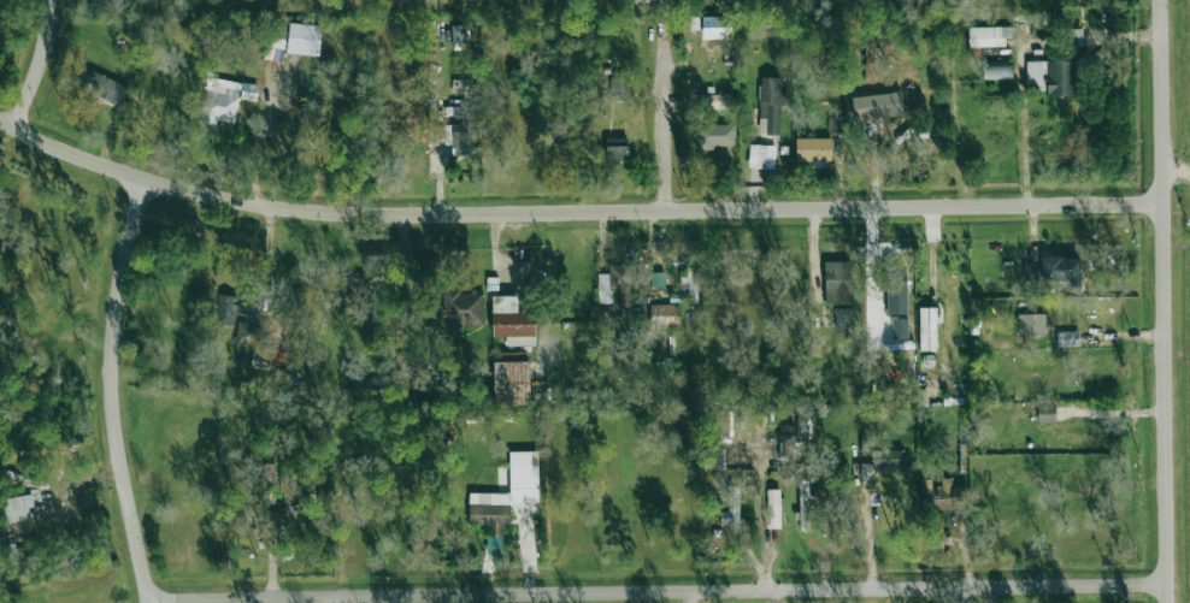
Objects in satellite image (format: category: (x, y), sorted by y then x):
building: (465, 0)
building: (108, 1)
building: (695, 23)
building: (717, 26)
building: (456, 32)
building: (989, 36)
building: (304, 39)
road: (36, 65)
building: (997, 70)
building: (1050, 76)
building: (99, 85)
building: (618, 88)
building: (870, 88)
building: (225, 99)
building: (714, 100)
building: (771, 105)
road: (1025, 119)
road: (662, 122)
building: (835, 124)
building: (456, 130)
building: (715, 135)
building: (615, 148)
road: (258, 149)
building: (813, 149)
building: (761, 156)
road: (1176, 167)
road: (573, 212)
building: (1055, 271)
road: (405, 272)
building: (658, 278)
building: (836, 282)
building: (690, 284)
building: (896, 288)
building: (360, 290)
building: (755, 295)
building: (605, 297)
building: (676, 297)
road: (1162, 301)
building: (228, 308)
building: (461, 309)
building: (725, 311)
building: (665, 315)
building: (842, 317)
building: (512, 321)
building: (1031, 323)
building: (899, 329)
building: (927, 329)
building: (247, 333)
building: (1067, 338)
building: (512, 355)
building: (511, 383)
road: (110, 390)
building: (1045, 413)
building: (787, 442)
building: (888, 460)
building: (943, 495)
building: (506, 498)
building: (803, 499)
building: (18, 506)
building: (773, 508)
building: (731, 509)
road: (758, 510)
road: (656, 591)

